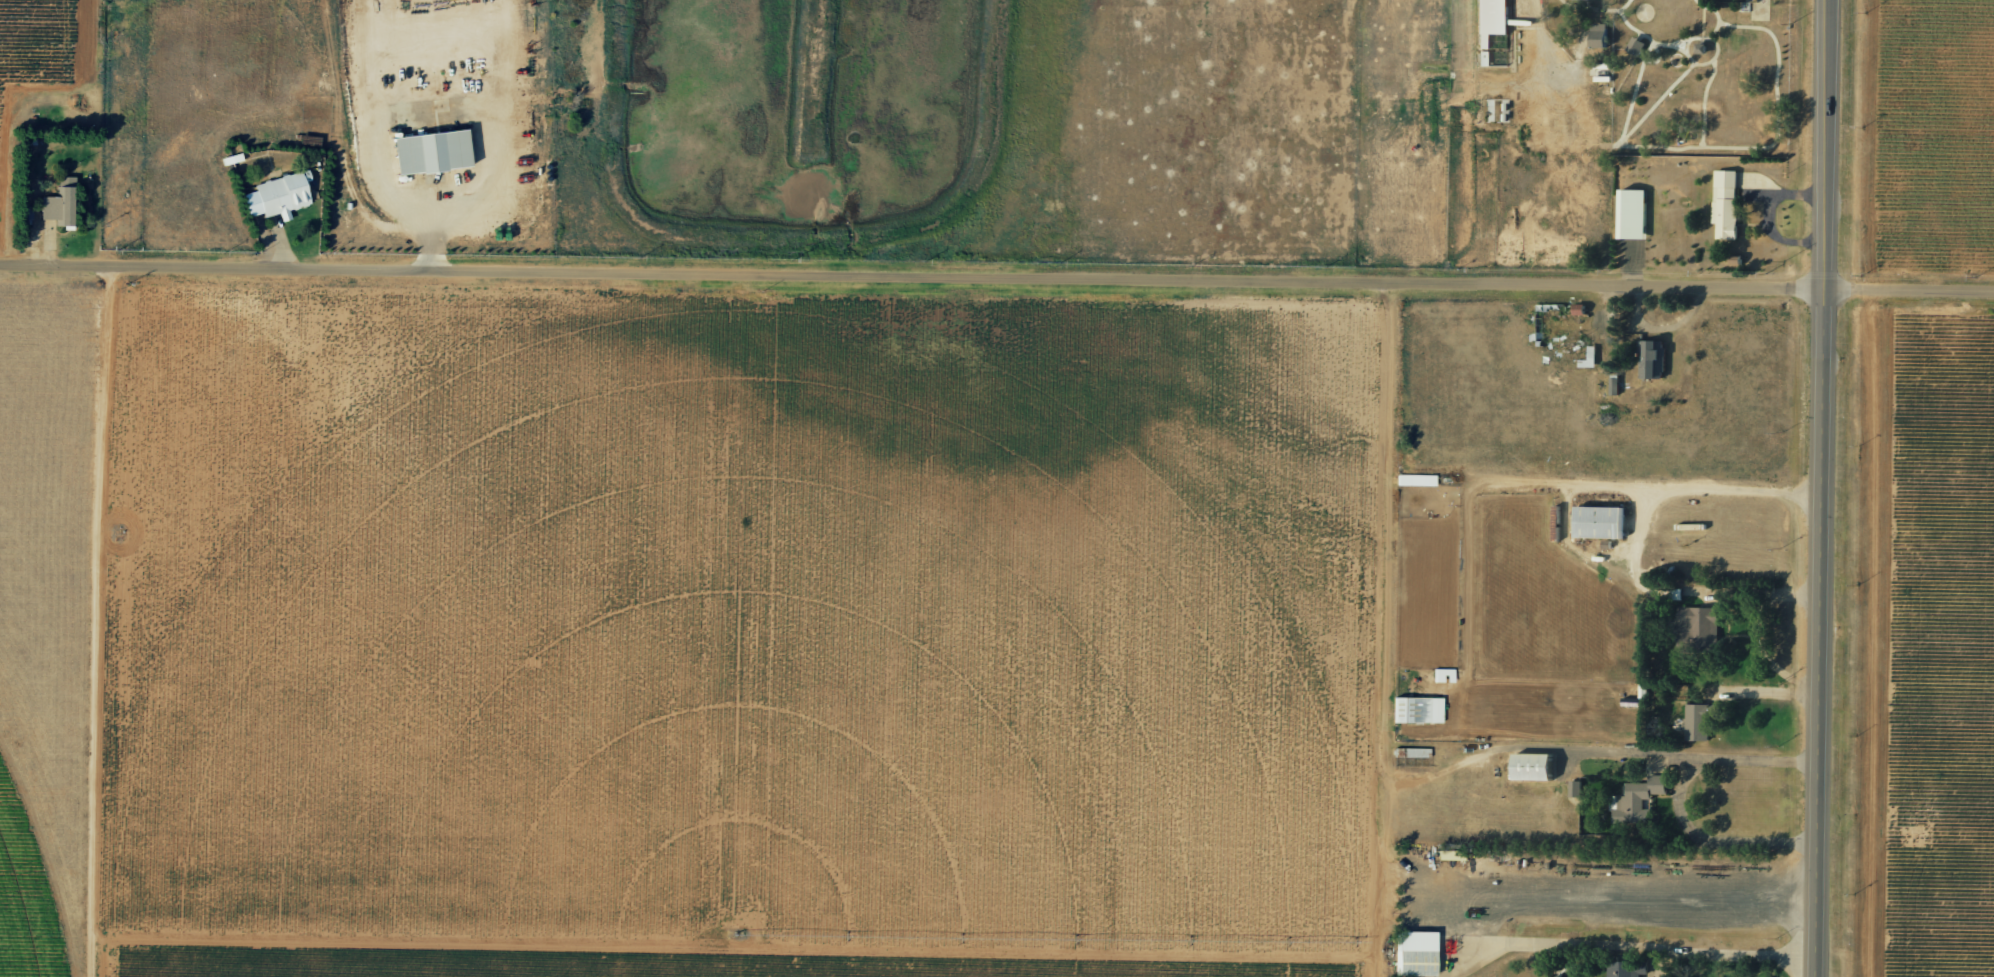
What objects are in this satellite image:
building: (1490, 24)
building: (1595, 35)
building: (1633, 46)
building: (425, 151)
building: (275, 195)
building: (1723, 204)
building: (53, 205)
building: (1629, 214)
road: (915, 279)
road: (1913, 289)
building: (1587, 358)
building: (1650, 359)
building: (1612, 387)
building: (1414, 479)
road: (76, 488)
road: (1828, 488)
building: (1597, 522)
building: (1699, 626)
road: (1766, 693)
building: (1416, 709)
building: (1696, 723)
road: (1694, 762)
building: (1528, 767)
building: (1573, 788)
building: (1633, 804)
road: (1717, 842)
road: (1626, 947)
building: (1411, 954)
building: (1625, 969)

